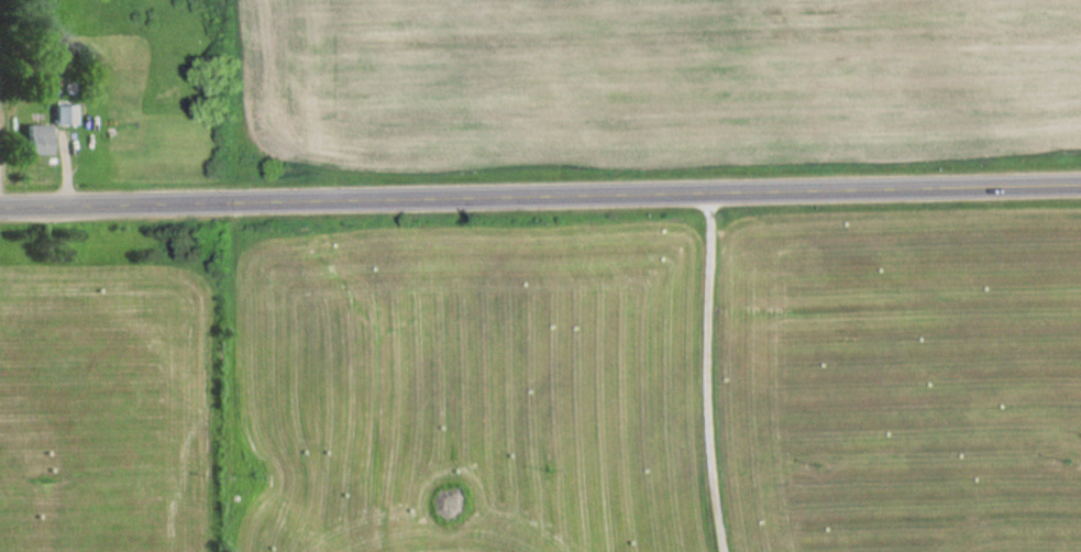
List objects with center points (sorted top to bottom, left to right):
building: (67, 113)
building: (41, 139)
road: (540, 194)
road: (705, 373)

